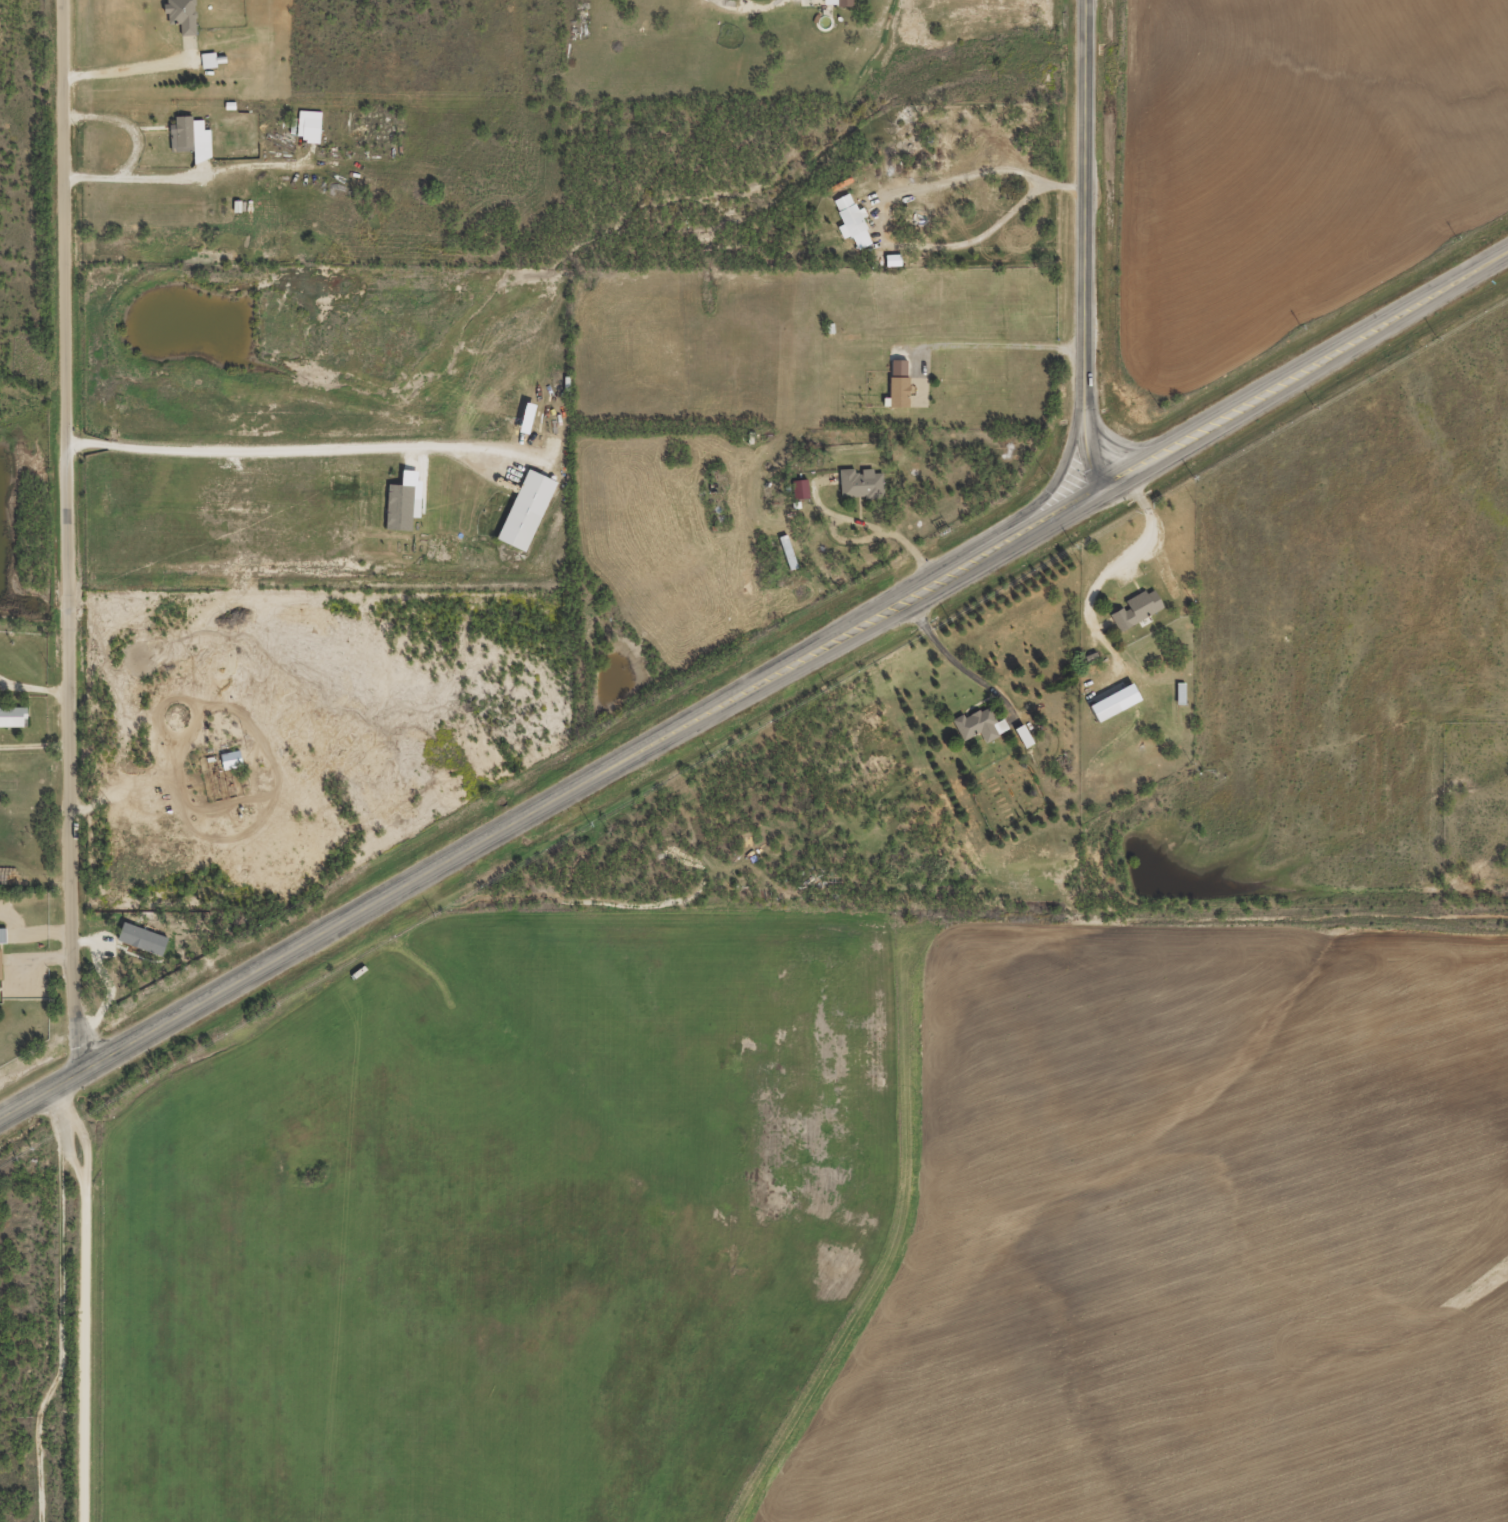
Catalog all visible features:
building: (838, 6)
building: (180, 20)
building: (207, 67)
building: (307, 133)
building: (189, 144)
building: (851, 228)
road: (1084, 245)
building: (897, 373)
building: (897, 398)
road: (284, 454)
building: (859, 490)
building: (799, 495)
building: (527, 507)
road: (69, 541)
building: (1136, 616)
road: (750, 688)
building: (1180, 700)
building: (1114, 709)
building: (13, 715)
building: (980, 723)
building: (231, 759)
building: (2, 935)
building: (0, 966)
road: (87, 1298)

